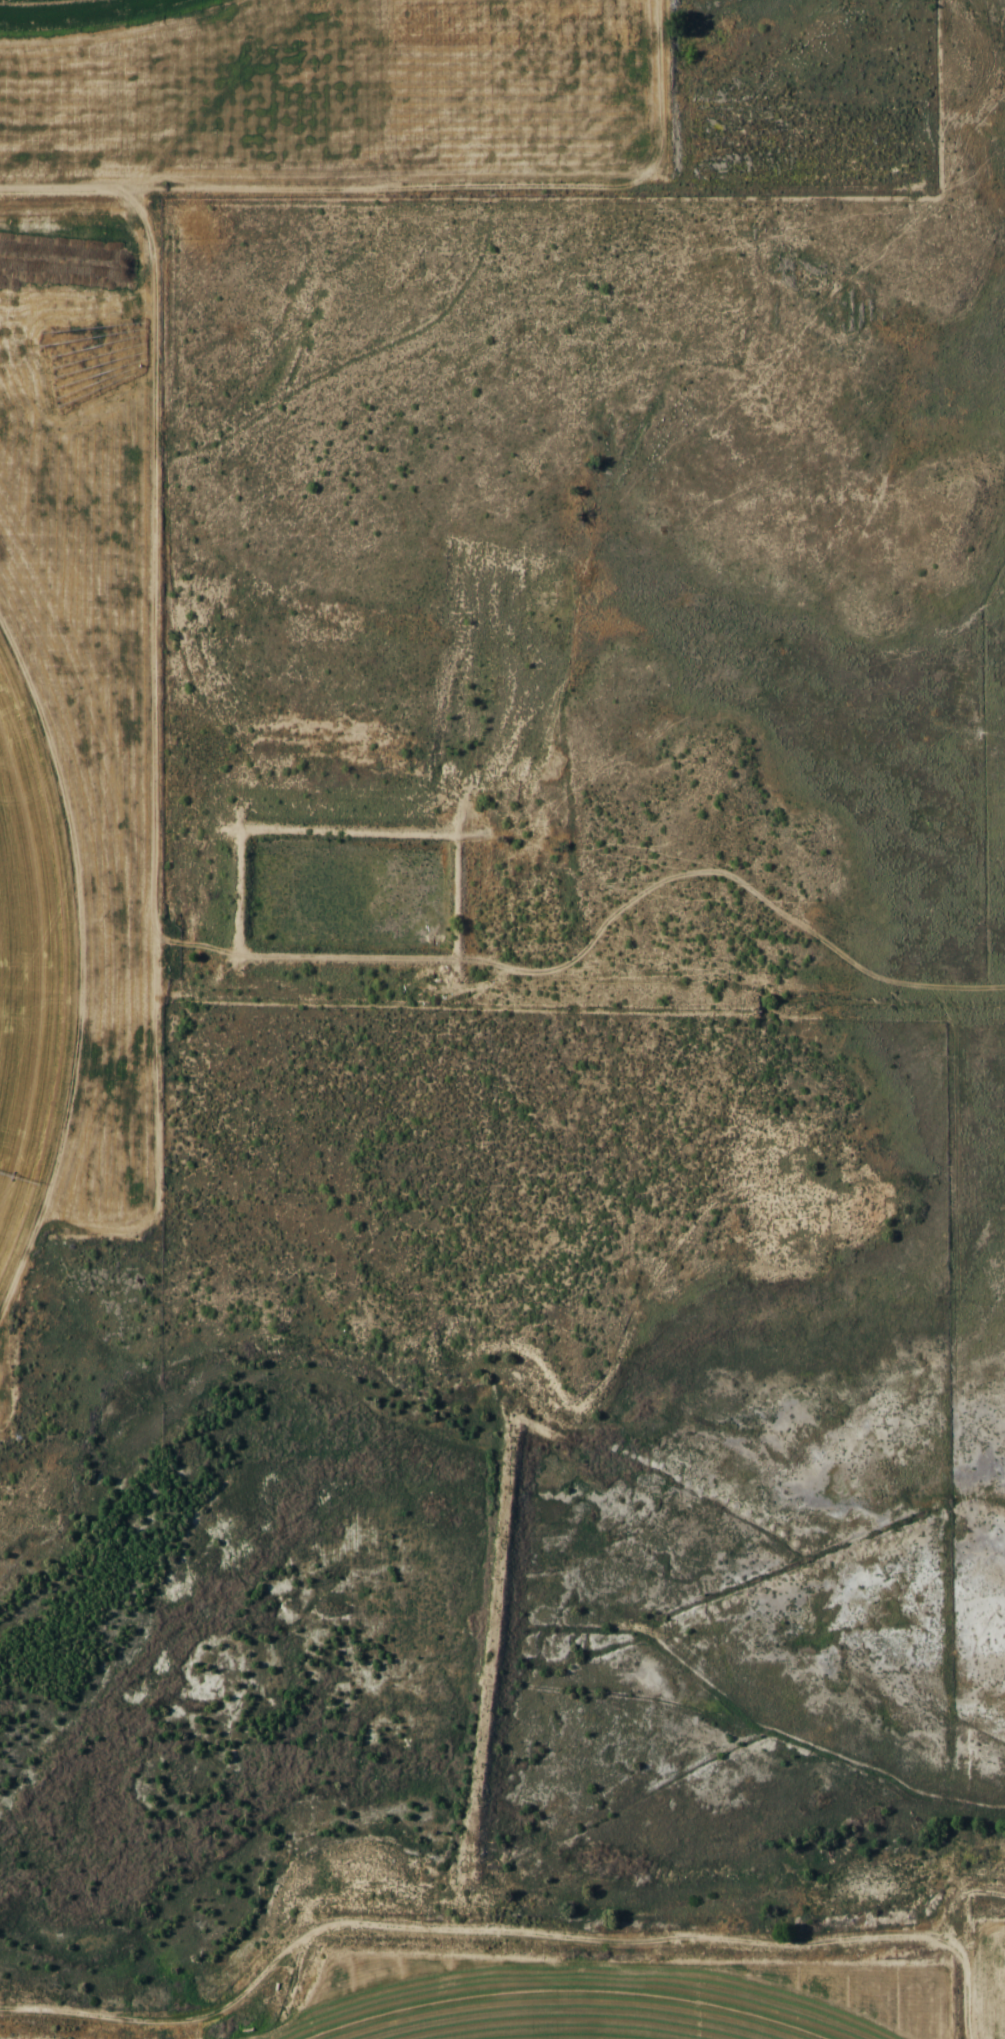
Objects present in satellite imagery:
road: (420, 192)
crop: (27, 972)

